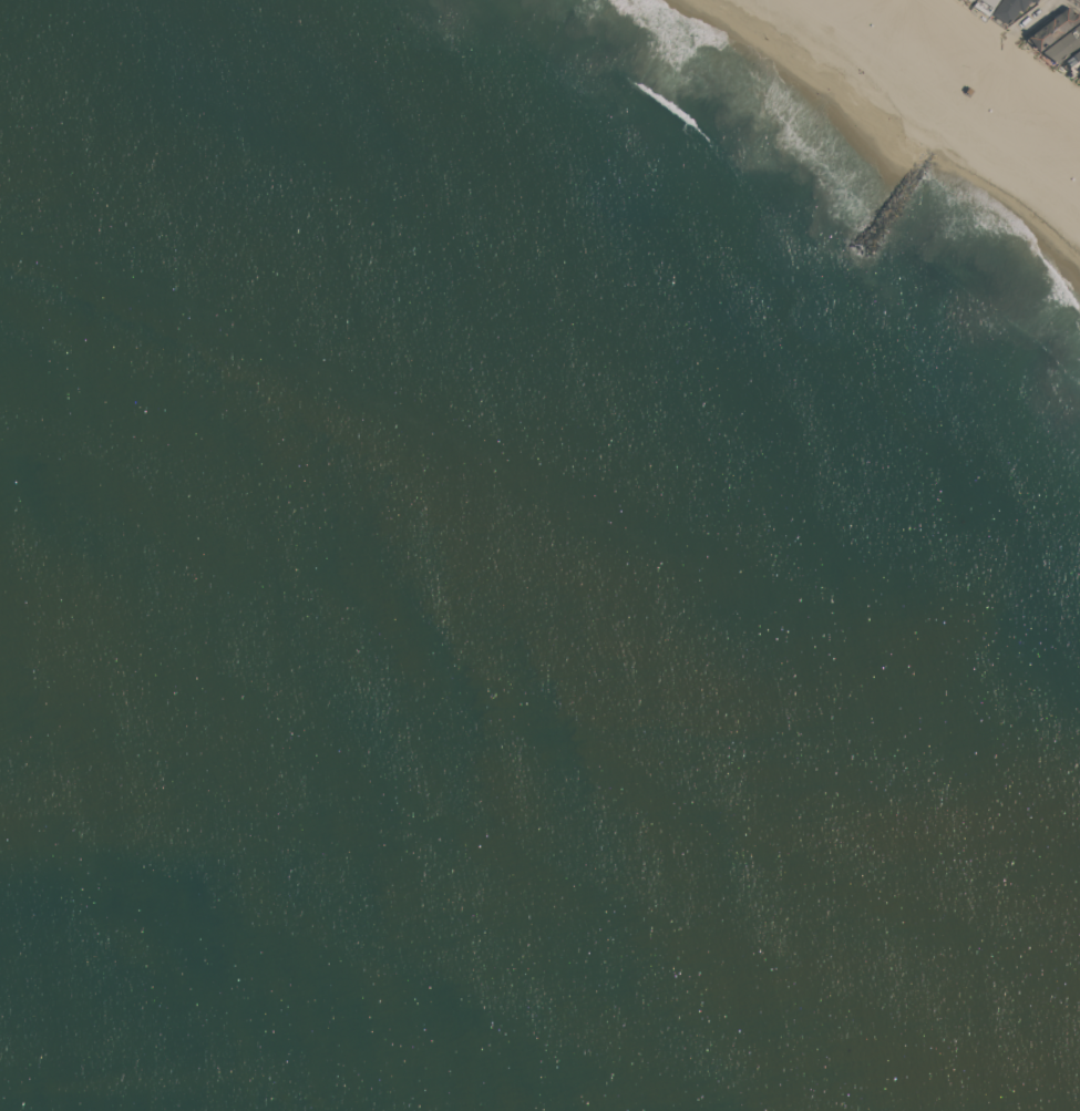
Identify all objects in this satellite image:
building: (975, 0)
building: (1033, 1)
building: (984, 4)
building: (1008, 9)
road: (1032, 16)
building: (1053, 28)
building: (1063, 44)
building: (1072, 62)

